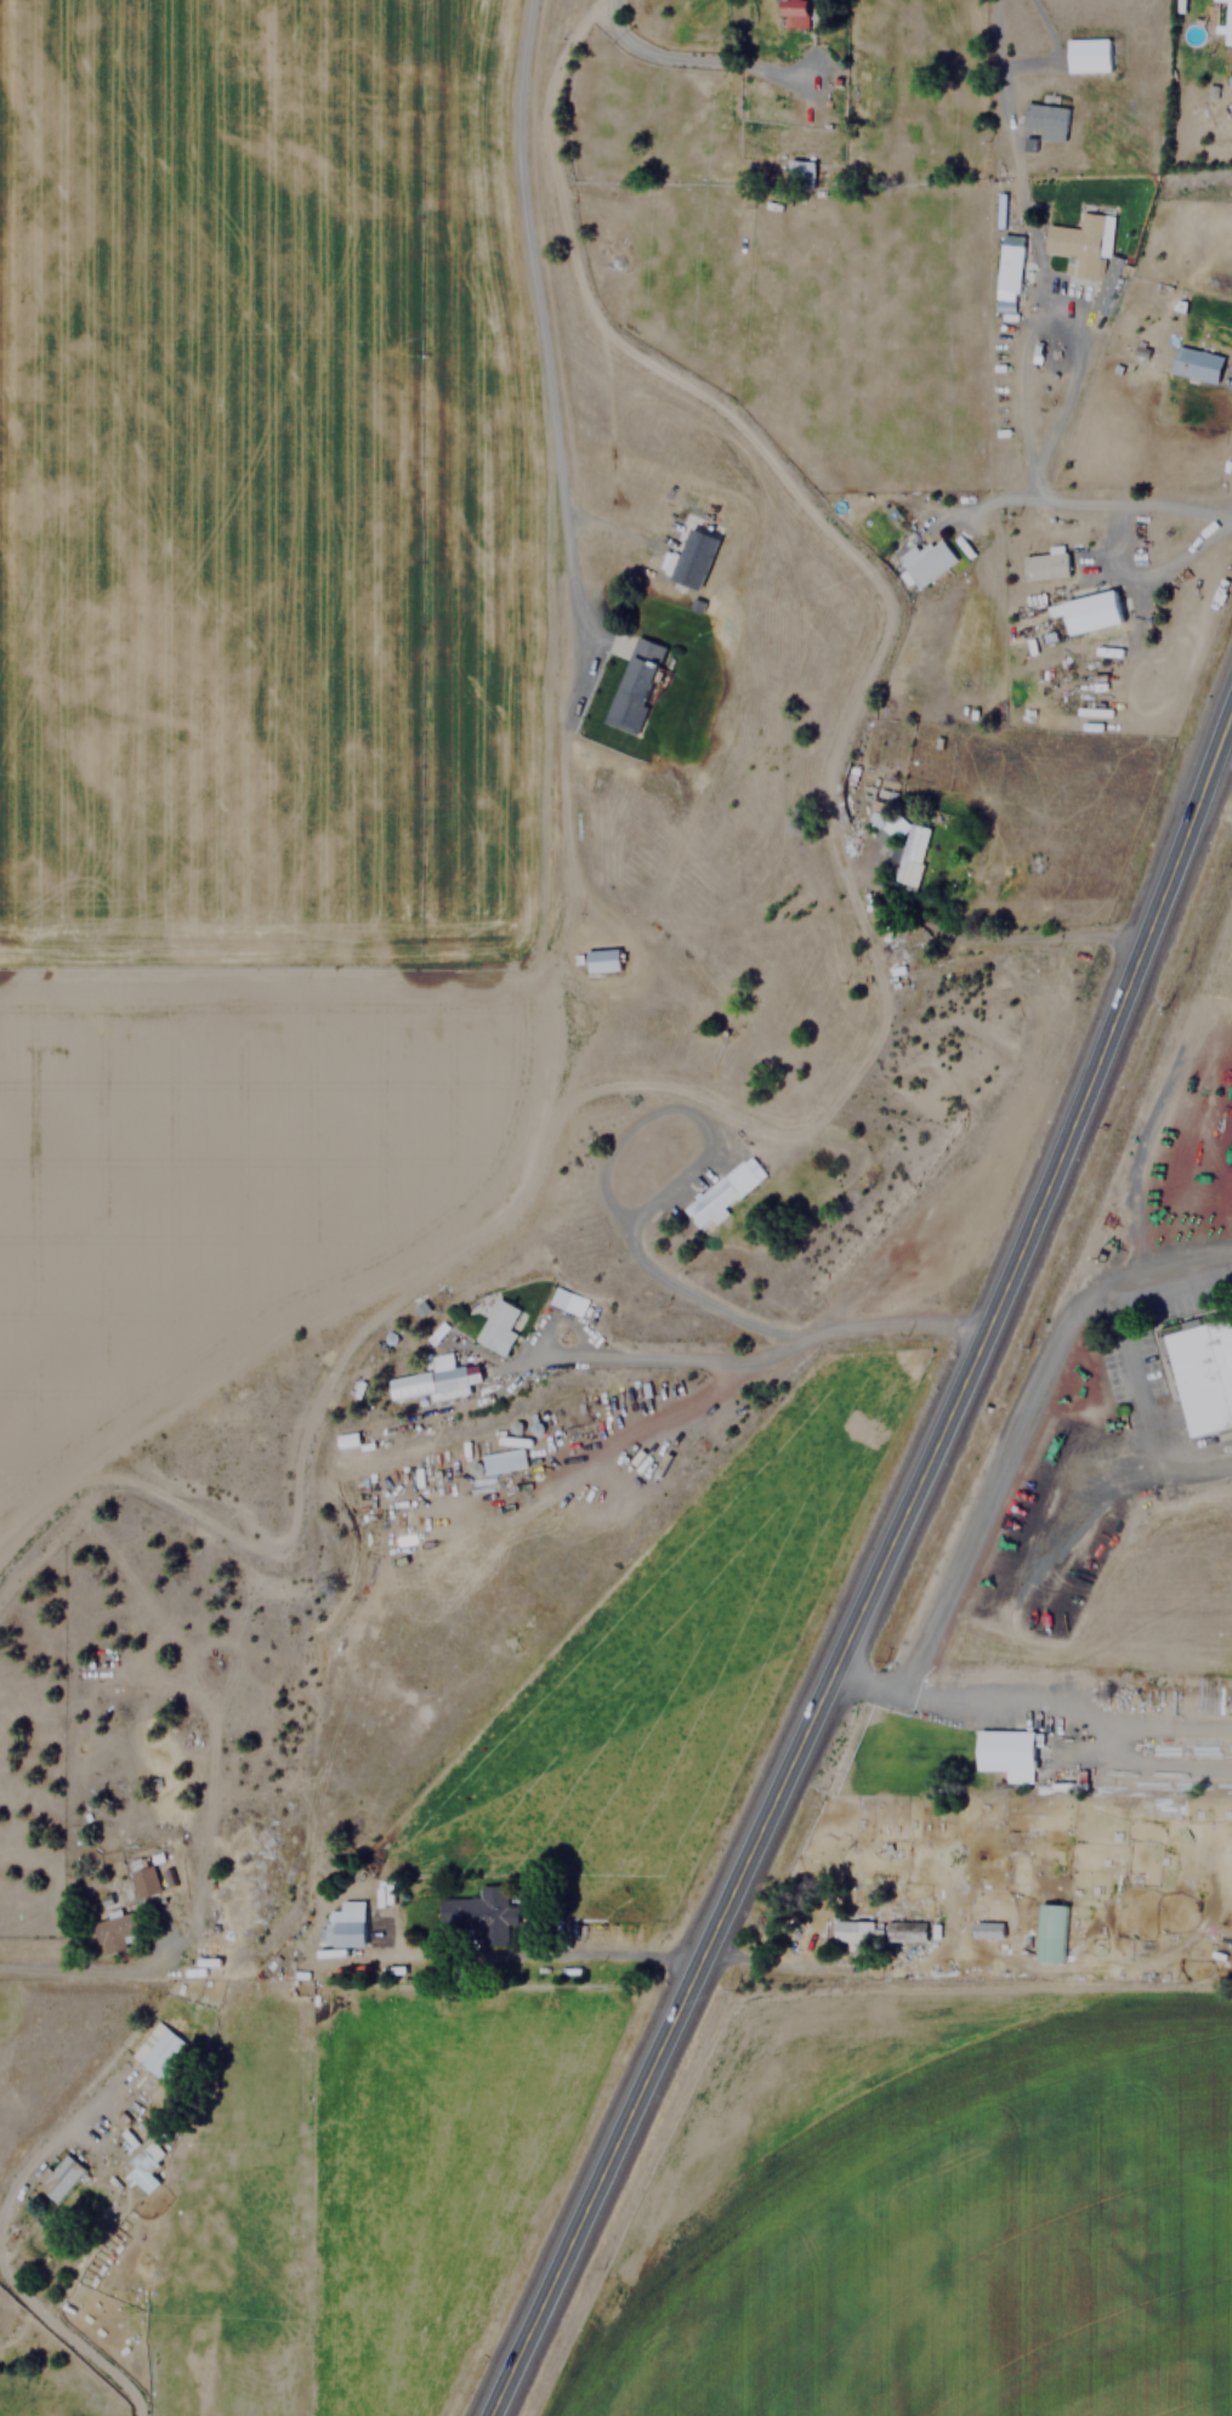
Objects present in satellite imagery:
building: (791, 13)
building: (1226, 22)
building: (1086, 55)
road: (689, 58)
building: (1044, 120)
building: (800, 170)
building: (1080, 244)
building: (1007, 262)
building: (1194, 364)
road: (555, 441)
road: (1096, 499)
road: (1115, 533)
building: (689, 556)
building: (925, 560)
building: (1044, 566)
building: (1090, 612)
building: (634, 685)
building: (908, 856)
building: (601, 960)
road: (878, 974)
road: (609, 991)
building: (722, 1192)
road: (641, 1248)
road: (1168, 1281)
building: (567, 1299)
building: (499, 1326)
road: (649, 1356)
building: (1203, 1373)
building: (448, 1380)
road: (1140, 1408)
road: (617, 1434)
building: (347, 1439)
building: (501, 1459)
road: (993, 1484)
road: (878, 1566)
road: (983, 1697)
building: (1005, 1752)
building: (142, 1877)
building: (481, 1913)
building: (346, 1924)
building: (986, 1928)
building: (904, 1930)
building: (115, 1932)
building: (1048, 1932)
building: (850, 1934)
road: (543, 1955)
road: (97, 1972)
building: (158, 2052)
road: (41, 2154)
building: (142, 2167)
building: (59, 2178)
crop: (971, 2250)
road: (70, 2331)

